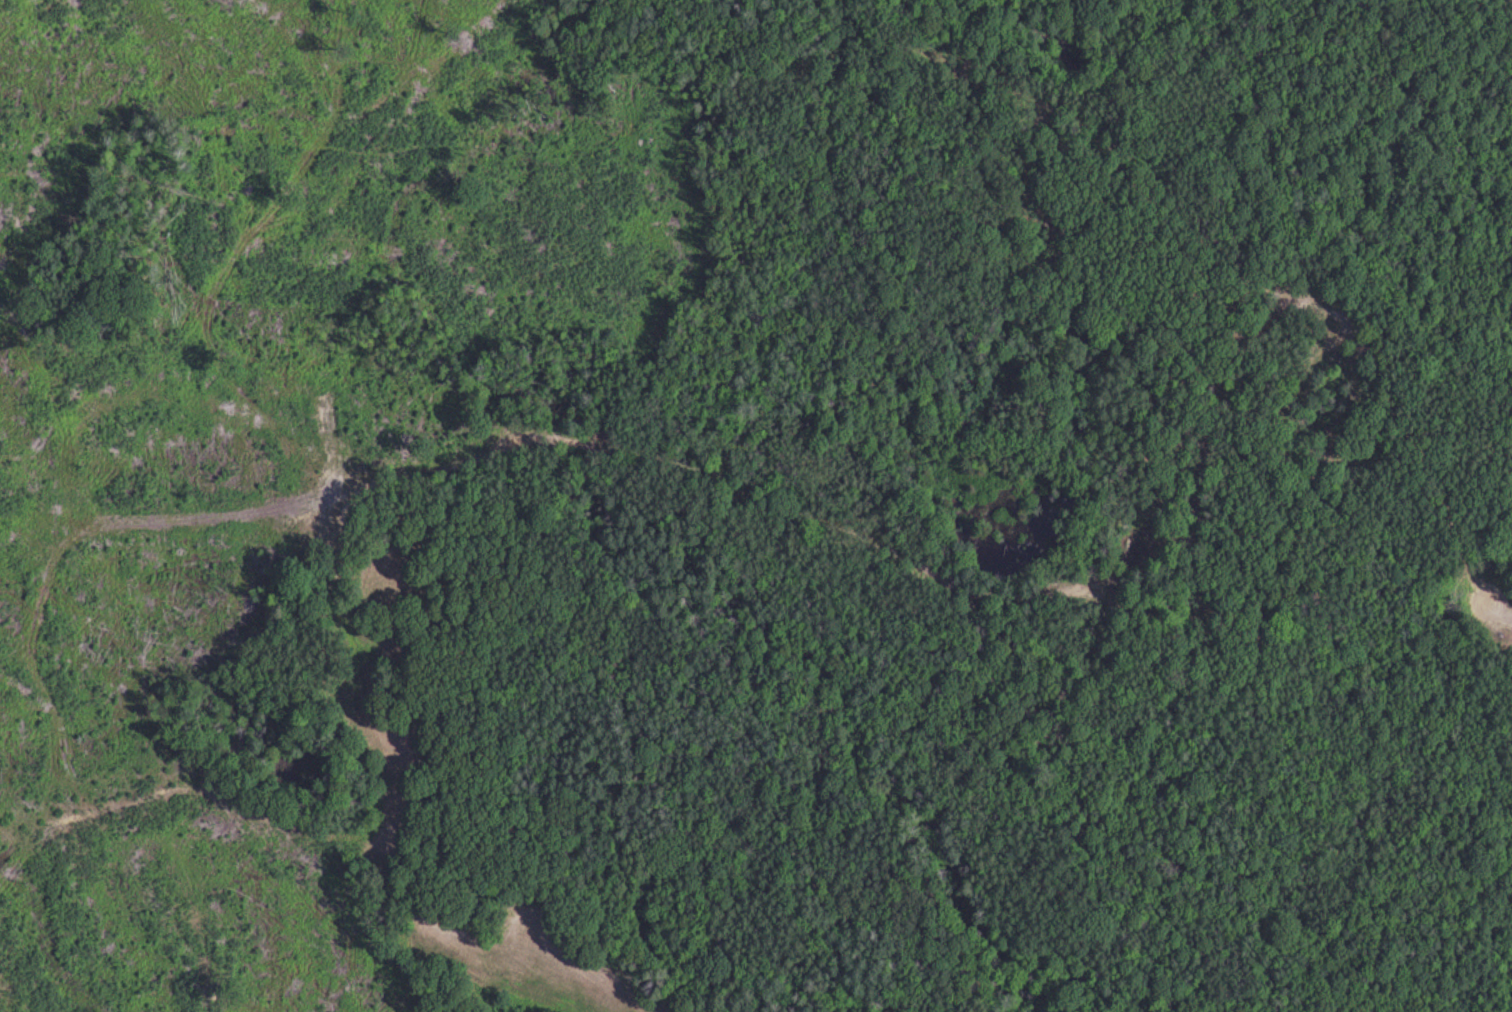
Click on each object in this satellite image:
road: (1486, 561)

